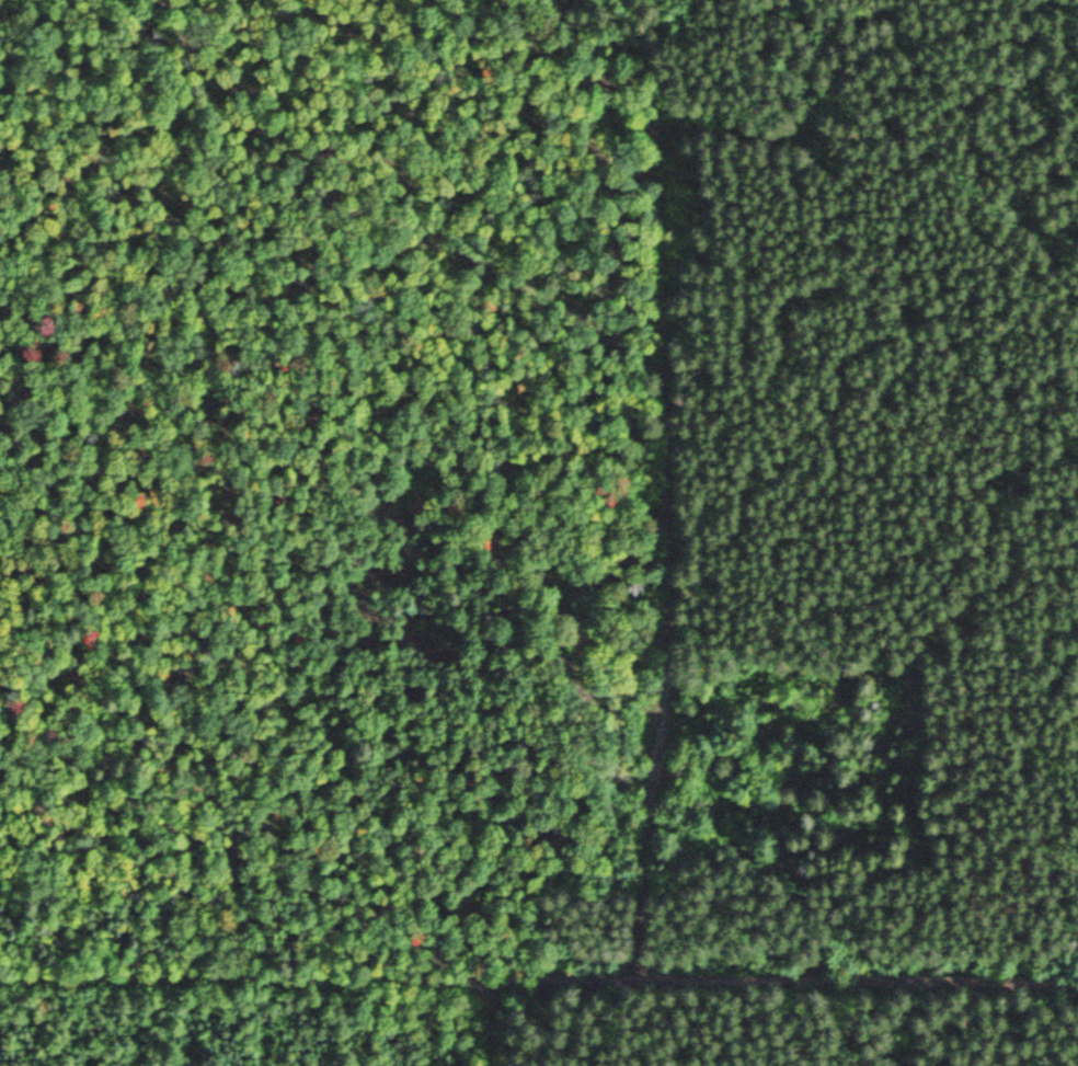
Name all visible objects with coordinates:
road: (662, 596)
road: (539, 979)
road: (474, 1023)

